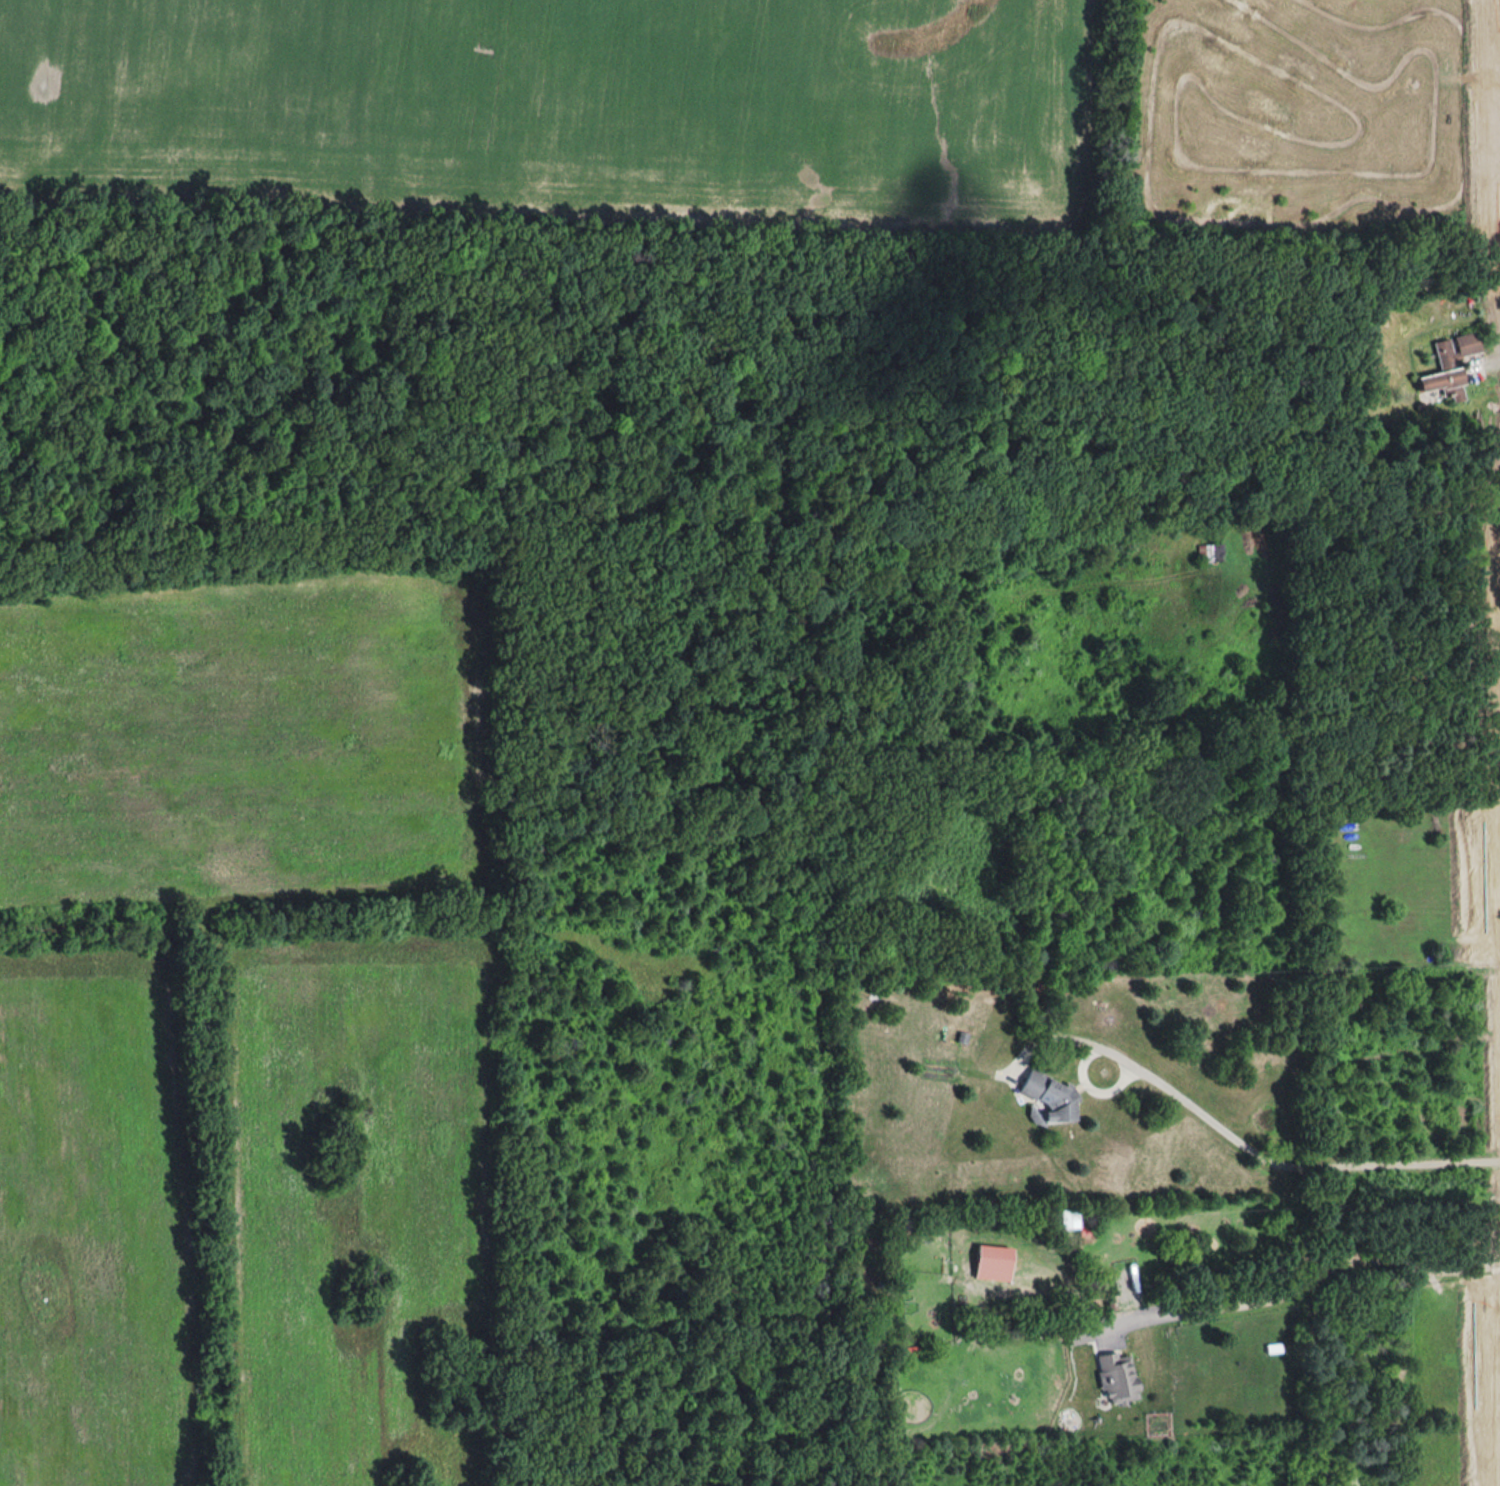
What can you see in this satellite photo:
building: (1446, 360)
building: (1208, 552)
road: (1081, 1069)
building: (1045, 1098)
road: (1302, 1164)
building: (990, 1263)
road: (1309, 1275)
building: (1076, 1333)
building: (1116, 1376)

